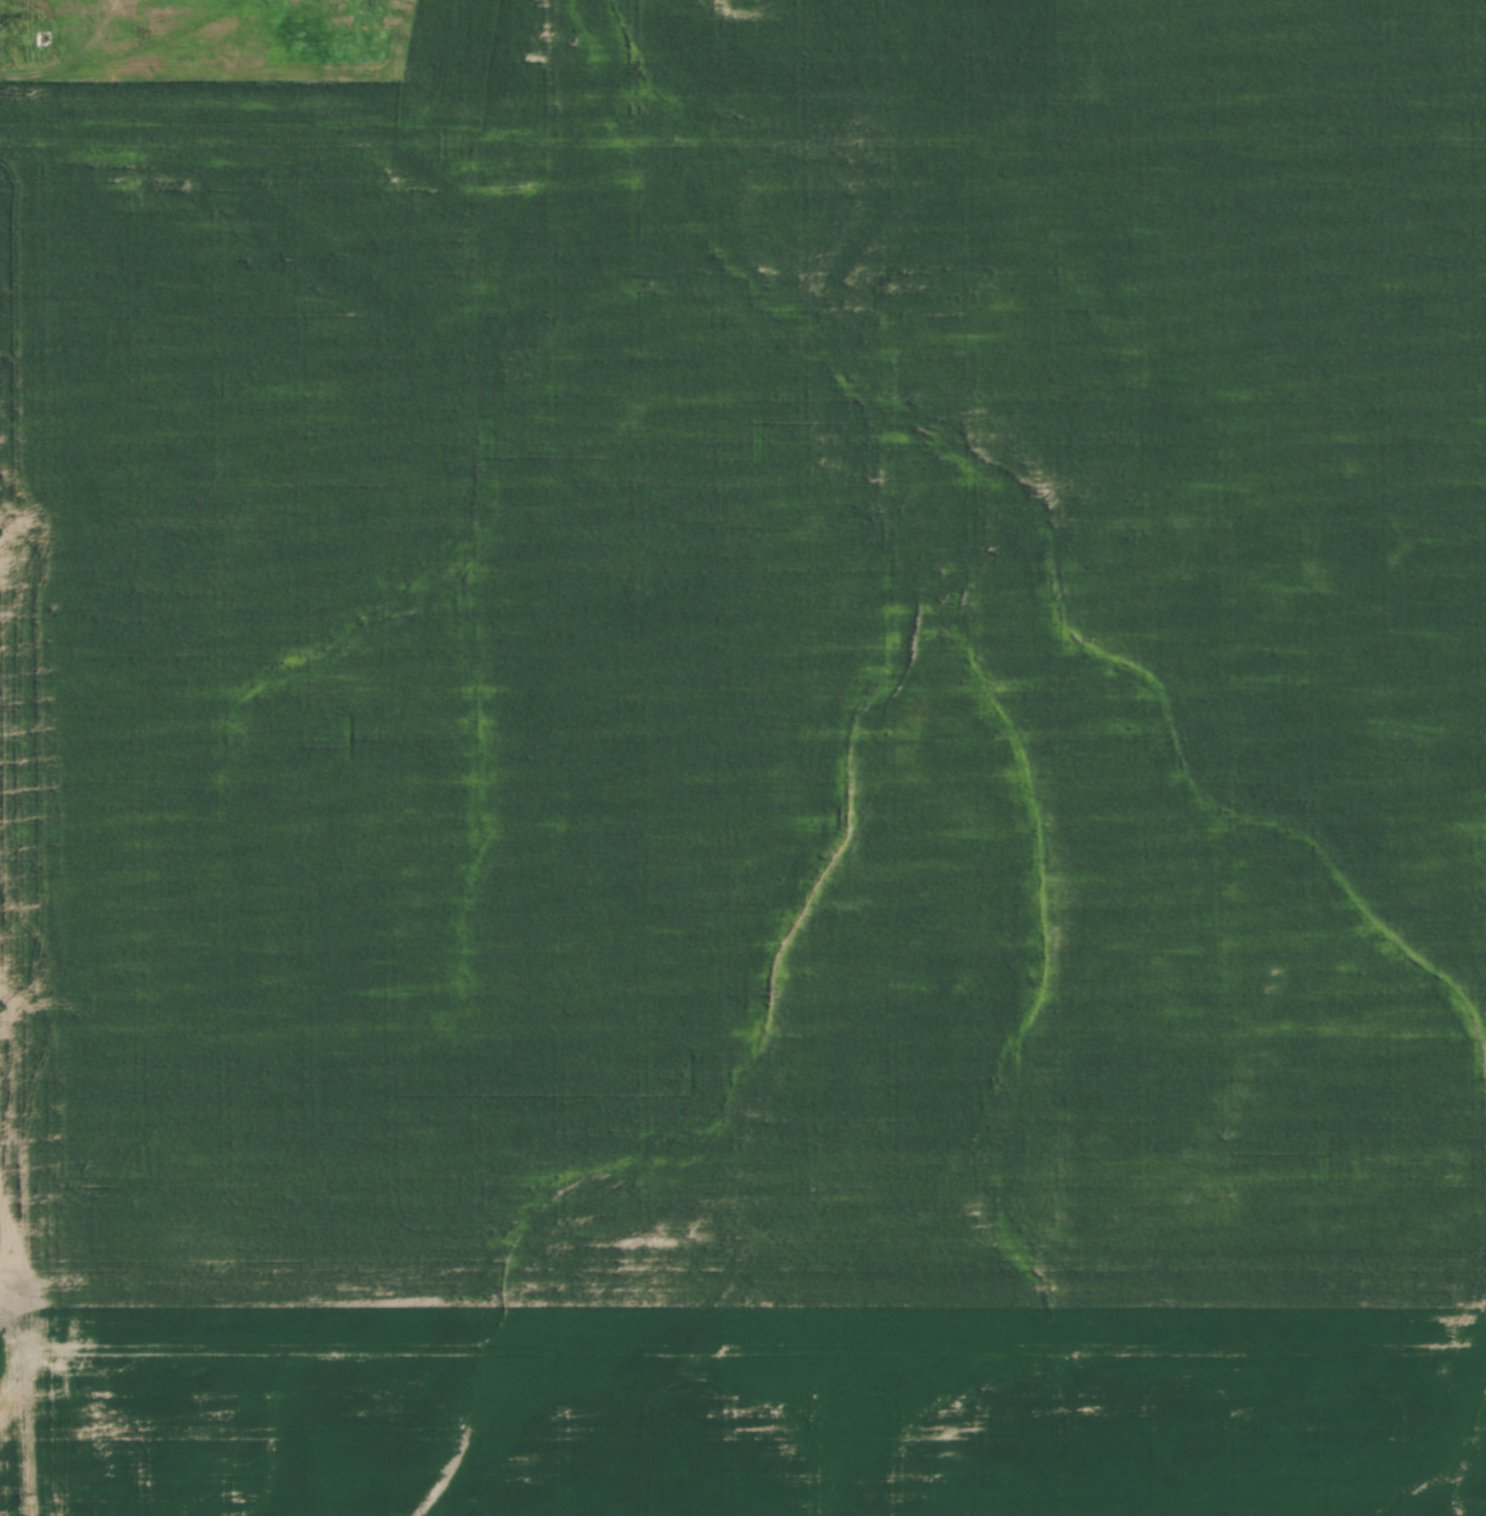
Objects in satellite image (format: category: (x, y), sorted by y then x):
road: (743, 1301)

